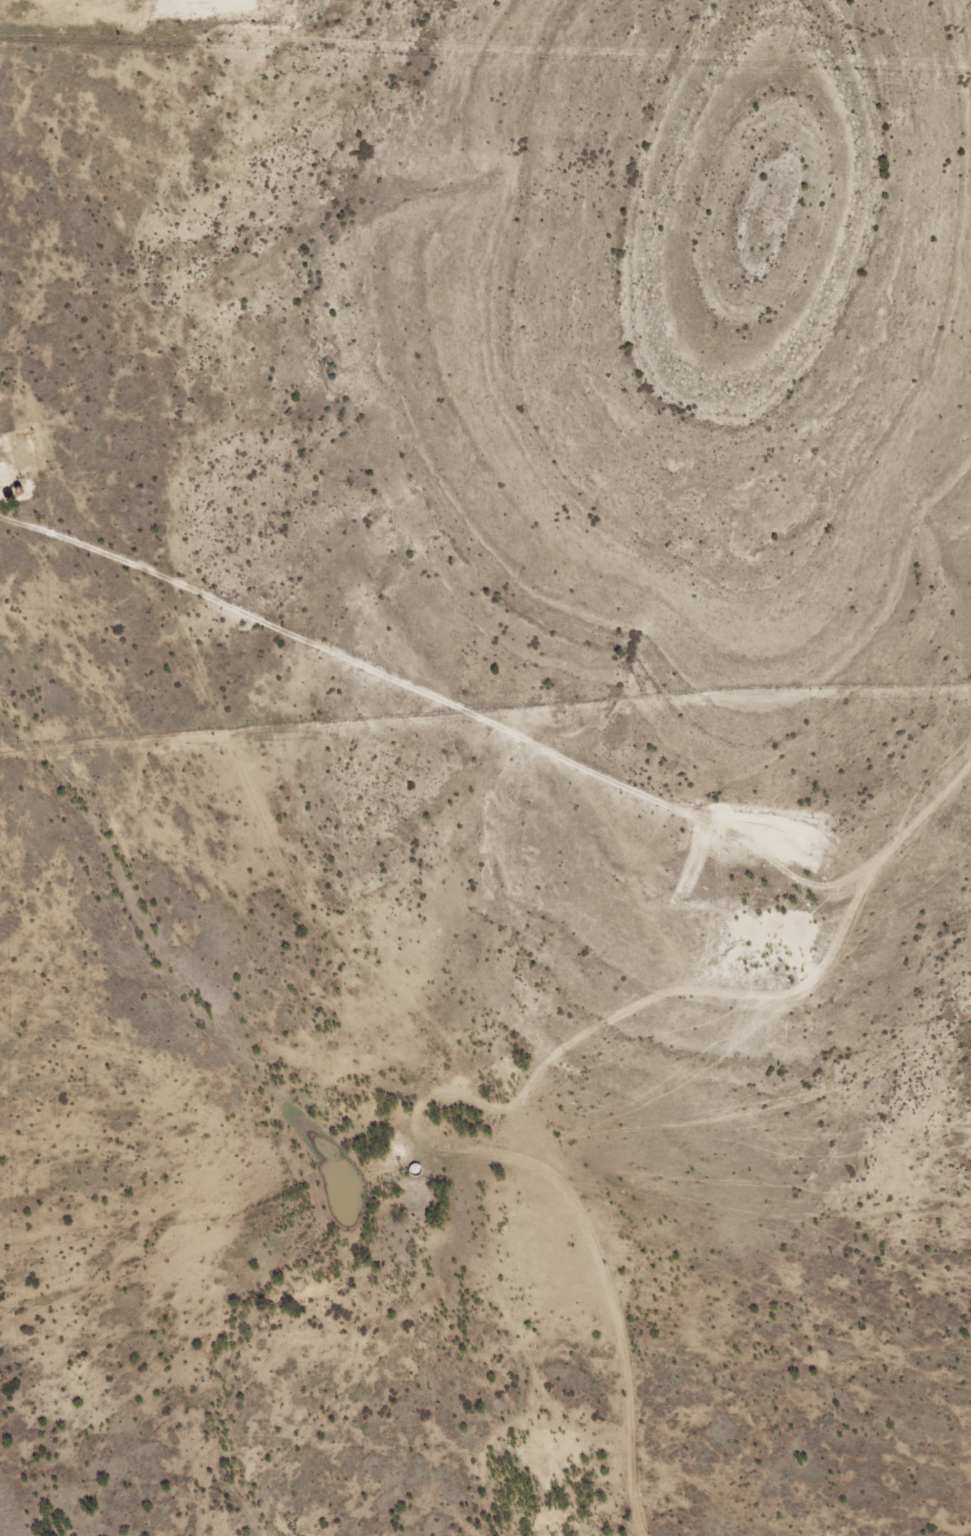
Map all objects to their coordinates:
road: (556, 1076)
road: (741, 1131)

